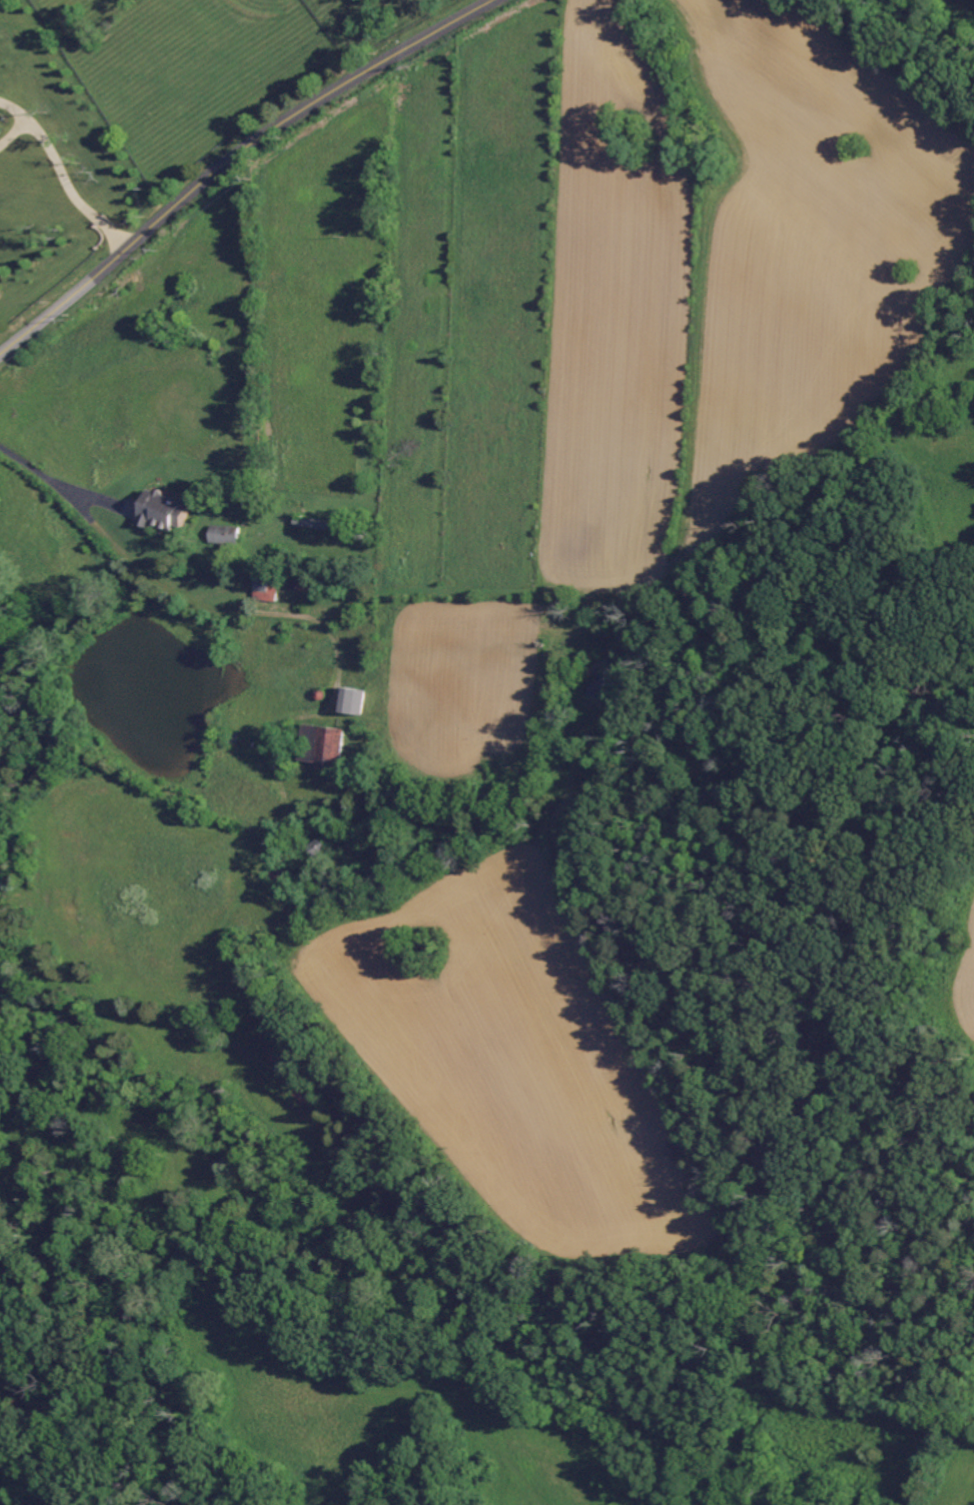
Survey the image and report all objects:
road: (16, 111)
road: (15, 134)
road: (232, 159)
road: (73, 190)
park: (19, 196)
road: (53, 482)
building: (164, 511)
building: (224, 534)
building: (265, 589)
building: (351, 700)
building: (322, 746)
building: (290, 1075)

